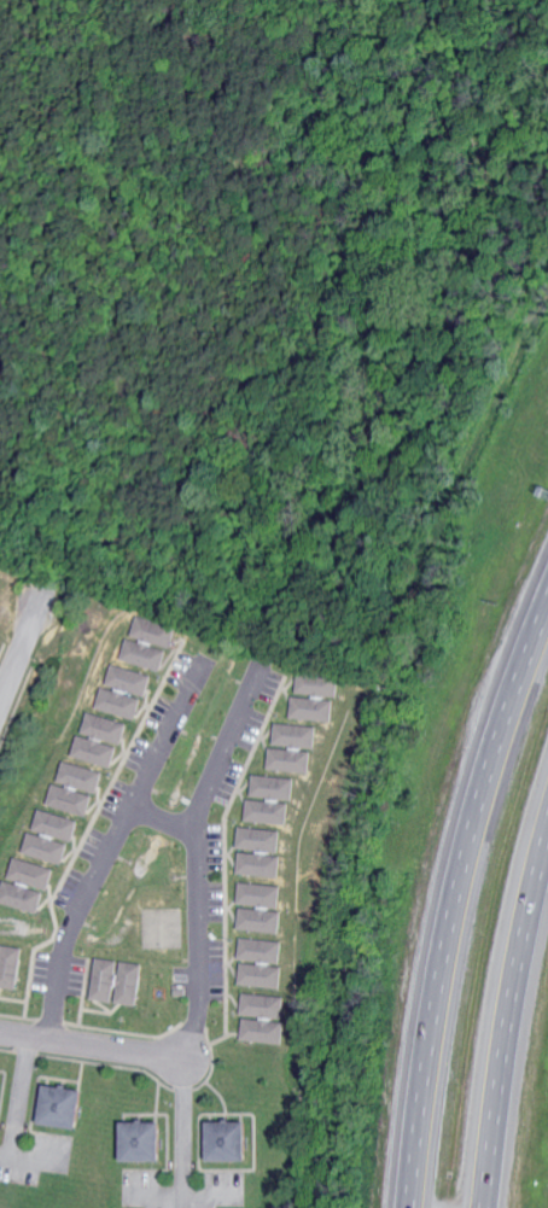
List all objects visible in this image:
road: (12, 41)
road: (106, 147)
road: (190, 234)
road: (121, 513)
building: (150, 643)
road: (23, 647)
building: (129, 679)
building: (314, 695)
building: (119, 702)
building: (105, 728)
building: (292, 747)
building: (94, 751)
building: (270, 799)
road: (161, 819)
building: (57, 824)
building: (46, 847)
road: (109, 847)
building: (260, 852)
building: (33, 873)
building: (22, 897)
road: (455, 898)
building: (260, 908)
building: (257, 950)
road: (194, 951)
building: (11, 965)
building: (260, 975)
building: (118, 981)
road: (508, 1016)
building: (262, 1017)
building: (0, 1082)
road: (17, 1096)
building: (64, 1107)
road: (182, 1126)
building: (145, 1142)
building: (231, 1142)
road: (25, 1156)
road: (181, 1196)

